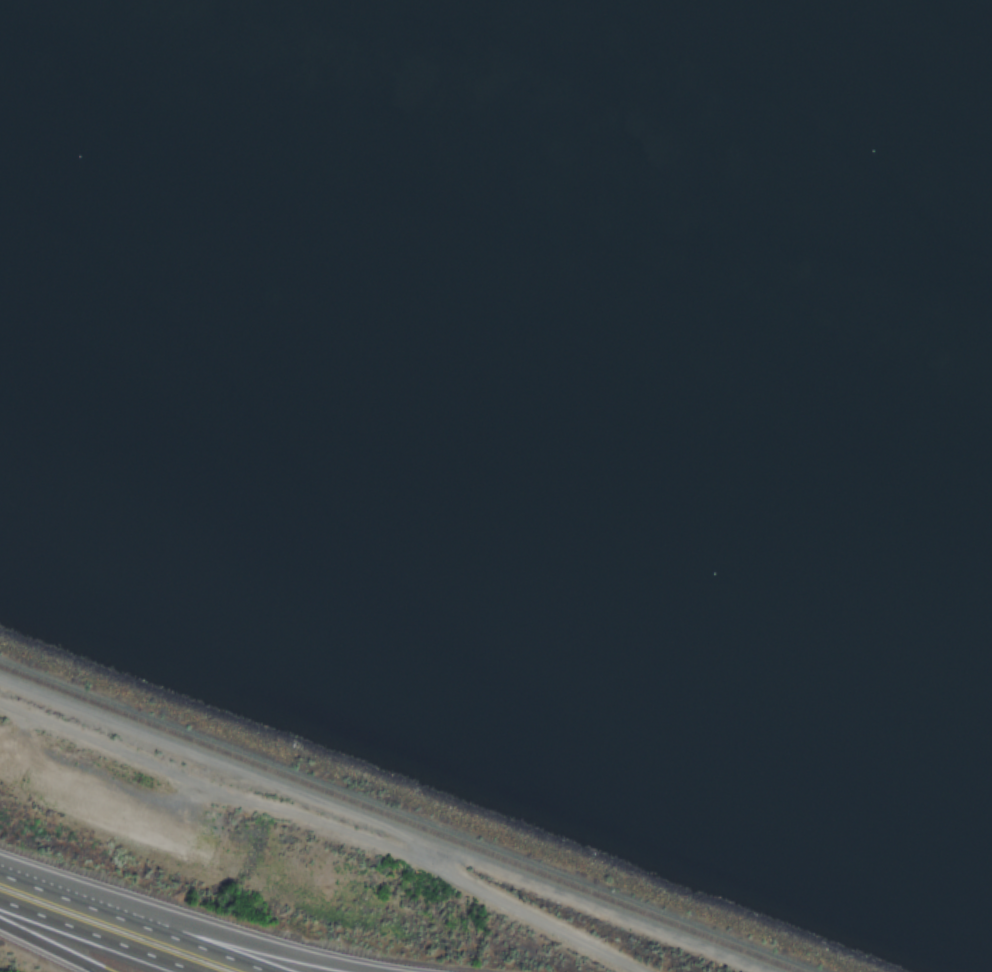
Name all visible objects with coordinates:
railway: (404, 814)
road: (546, 920)
road: (150, 923)
road: (211, 932)
road: (84, 938)
road: (49, 948)

